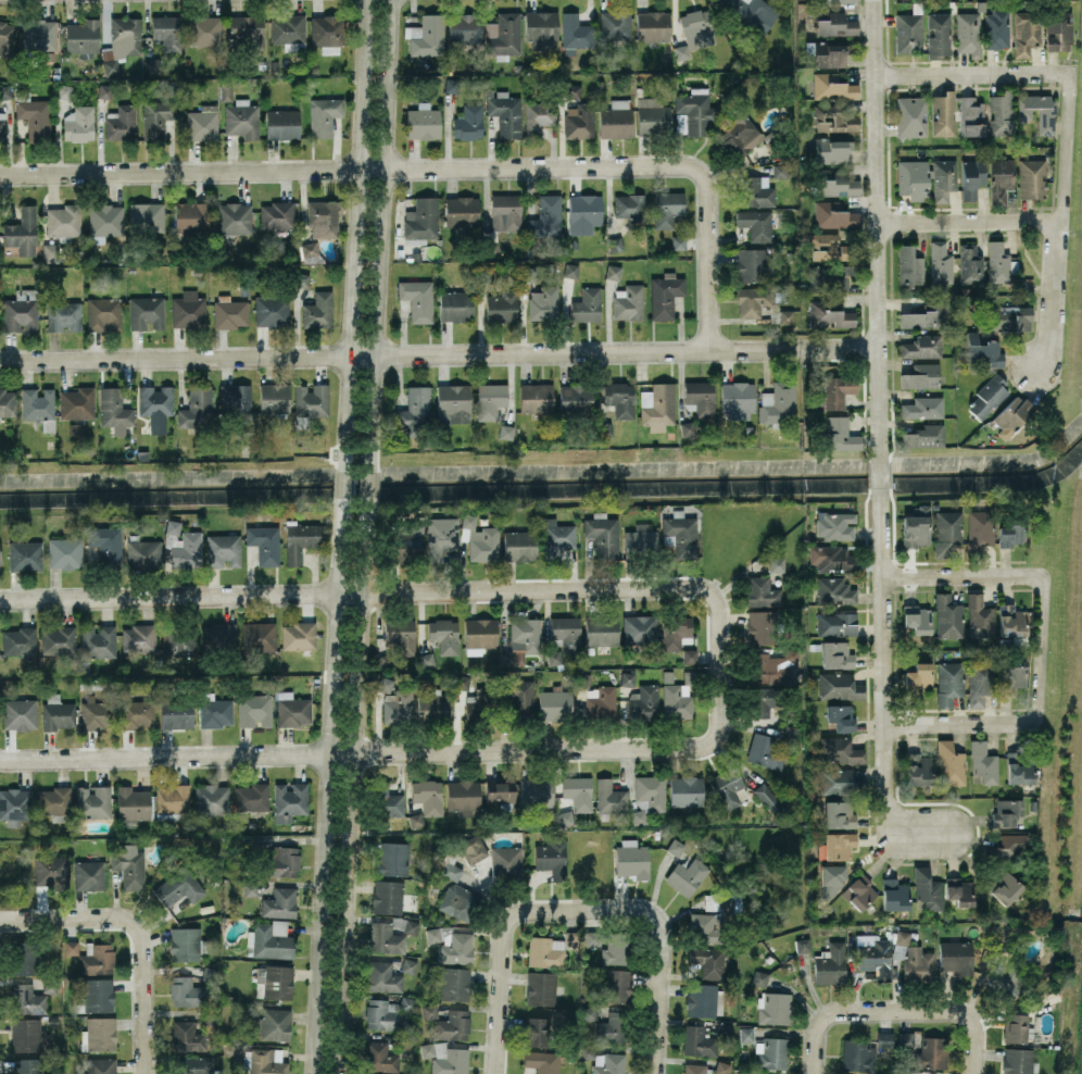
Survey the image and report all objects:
building: (832, 0)
building: (752, 12)
building: (834, 23)
building: (615, 24)
building: (652, 25)
building: (464, 27)
building: (248, 28)
building: (287, 28)
building: (996, 28)
building: (326, 29)
building: (541, 29)
building: (204, 30)
building: (1058, 30)
building: (168, 32)
building: (577, 32)
building: (694, 32)
building: (908, 32)
building: (1026, 32)
building: (968, 33)
building: (39, 34)
building: (426, 35)
building: (503, 35)
building: (939, 35)
building: (8, 36)
building: (81, 36)
building: (122, 41)
building: (828, 53)
building: (152, 65)
road: (972, 73)
building: (452, 85)
building: (832, 87)
building: (64, 90)
building: (104, 90)
building: (571, 90)
building: (4, 91)
building: (226, 91)
building: (1037, 110)
building: (693, 112)
building: (505, 113)
building: (943, 113)
building: (1001, 113)
building: (324, 115)
building: (652, 115)
building: (911, 115)
building: (538, 116)
building: (971, 116)
building: (35, 117)
building: (158, 118)
building: (242, 118)
building: (615, 118)
building: (834, 118)
building: (579, 121)
building: (423, 122)
building: (468, 122)
building: (122, 123)
building: (202, 123)
building: (282, 123)
building: (78, 124)
building: (2, 125)
building: (740, 133)
building: (831, 150)
road: (632, 168)
building: (781, 170)
road: (191, 171)
building: (971, 177)
building: (927, 178)
building: (1032, 178)
building: (1001, 179)
building: (836, 183)
building: (756, 191)
building: (667, 208)
building: (630, 209)
building: (462, 211)
building: (505, 212)
building: (583, 212)
building: (276, 214)
building: (834, 215)
building: (146, 216)
building: (545, 216)
building: (191, 217)
building: (234, 217)
building: (322, 217)
building: (63, 220)
building: (104, 221)
building: (422, 221)
road: (969, 223)
road: (1058, 223)
building: (755, 224)
road: (879, 228)
building: (22, 232)
road: (354, 232)
road: (380, 233)
building: (678, 241)
building: (829, 247)
building: (50, 252)
building: (310, 252)
building: (998, 262)
building: (753, 263)
building: (941, 263)
building: (970, 263)
building: (909, 265)
building: (570, 270)
building: (613, 272)
building: (528, 273)
building: (485, 274)
building: (830, 278)
building: (301, 279)
building: (665, 295)
building: (417, 299)
building: (752, 300)
building: (543, 302)
building: (628, 302)
building: (587, 304)
building: (455, 305)
building: (502, 307)
building: (188, 309)
building: (272, 310)
building: (318, 310)
road: (1068, 311)
building: (146, 312)
building: (230, 312)
building: (104, 313)
building: (20, 314)
building: (829, 314)
building: (63, 315)
building: (785, 316)
building: (922, 316)
building: (1010, 317)
building: (921, 347)
road: (627, 351)
building: (982, 352)
road: (186, 355)
building: (921, 376)
building: (838, 390)
building: (536, 397)
building: (575, 397)
building: (987, 397)
building: (235, 398)
building: (274, 398)
building: (619, 398)
building: (700, 398)
building: (311, 399)
building: (490, 400)
building: (737, 400)
building: (8, 402)
building: (453, 402)
building: (778, 402)
building: (37, 403)
building: (76, 403)
building: (155, 405)
building: (657, 405)
building: (196, 408)
building: (922, 408)
building: (414, 409)
building: (114, 410)
building: (1011, 414)
building: (79, 427)
building: (605, 428)
building: (505, 430)
building: (841, 435)
building: (923, 436)
road: (882, 477)
road: (341, 483)
road: (367, 484)
building: (834, 525)
building: (916, 526)
building: (946, 530)
building: (978, 530)
building: (1010, 532)
building: (603, 534)
building: (680, 534)
building: (440, 536)
building: (557, 537)
building: (641, 537)
building: (300, 540)
building: (402, 544)
building: (105, 545)
building: (183, 545)
building: (518, 545)
building: (265, 547)
building: (223, 550)
building: (64, 552)
building: (143, 554)
building: (25, 555)
building: (831, 558)
building: (0, 561)
building: (776, 563)
road: (948, 576)
road: (576, 590)
building: (834, 590)
building: (762, 591)
road: (180, 596)
building: (947, 616)
building: (979, 616)
building: (917, 619)
building: (1011, 621)
building: (836, 623)
building: (758, 626)
building: (640, 628)
building: (601, 629)
building: (675, 630)
building: (566, 632)
building: (479, 634)
building: (218, 635)
building: (298, 635)
building: (443, 635)
building: (259, 636)
building: (138, 638)
building: (399, 638)
building: (59, 639)
building: (16, 640)
building: (98, 640)
building: (523, 640)
building: (178, 642)
road: (1045, 642)
building: (835, 654)
building: (689, 655)
building: (554, 657)
building: (426, 660)
building: (772, 666)
building: (1010, 676)
building: (918, 677)
building: (628, 678)
building: (979, 682)
building: (948, 683)
building: (385, 684)
building: (839, 686)
road: (886, 697)
building: (676, 699)
building: (600, 701)
building: (762, 701)
building: (643, 702)
building: (473, 703)
building: (555, 704)
building: (395, 707)
building: (435, 708)
building: (292, 709)
building: (254, 710)
building: (215, 711)
building: (58, 712)
building: (20, 713)
building: (97, 713)
building: (176, 713)
building: (137, 714)
building: (840, 716)
road: (952, 723)
building: (791, 734)
building: (841, 749)
road: (571, 750)
building: (765, 751)
road: (175, 755)
building: (983, 762)
building: (949, 763)
building: (918, 769)
building: (1019, 769)
building: (836, 780)
road: (350, 787)
building: (727, 787)
road: (326, 788)
building: (685, 790)
building: (500, 791)
building: (536, 791)
building: (578, 791)
building: (428, 795)
building: (463, 796)
building: (647, 796)
building: (251, 797)
building: (609, 797)
building: (768, 798)
building: (212, 799)
building: (54, 800)
building: (289, 800)
building: (388, 800)
building: (92, 801)
building: (133, 802)
building: (172, 802)
building: (15, 806)
building: (1006, 811)
building: (839, 814)
building: (565, 817)
building: (416, 819)
building: (839, 845)
building: (676, 846)
building: (473, 848)
building: (1007, 848)
building: (393, 858)
building: (552, 858)
building: (631, 858)
building: (506, 860)
building: (284, 861)
building: (128, 864)
building: (448, 865)
building: (51, 871)
building: (89, 874)
building: (687, 875)
building: (1003, 886)
building: (178, 887)
building: (250, 888)
building: (927, 888)
building: (959, 890)
building: (859, 891)
building: (894, 895)
building: (387, 896)
building: (457, 900)
building: (279, 902)
road: (32, 919)
building: (705, 927)
building: (903, 937)
building: (386, 938)
building: (591, 938)
building: (269, 939)
building: (185, 944)
building: (451, 945)
building: (803, 945)
building: (71, 947)
building: (615, 948)
building: (545, 951)
building: (873, 954)
building: (24, 957)
road: (500, 957)
road: (663, 957)
building: (956, 957)
building: (97, 959)
road: (142, 961)
building: (707, 961)
building: (918, 963)
building: (830, 964)
building: (408, 965)
building: (382, 976)
building: (760, 977)
building: (274, 982)
building: (455, 983)
building: (1006, 983)
building: (614, 985)
building: (540, 987)
building: (186, 991)
building: (98, 995)
building: (27, 999)
building: (705, 1000)
building: (406, 1003)
building: (773, 1008)
building: (429, 1011)
building: (589, 1012)
road: (834, 1013)
road: (967, 1013)
building: (382, 1014)
building: (273, 1024)
building: (452, 1025)
building: (611, 1026)
building: (1016, 1027)
building: (537, 1031)
building: (99, 1033)
building: (746, 1034)
building: (28, 1035)
building: (188, 1037)
building: (884, 1038)
building: (906, 1038)
building: (699, 1041)
building: (427, 1049)
building: (931, 1052)
building: (771, 1053)
building: (857, 1054)
building: (379, 1057)
building: (1017, 1060)
building: (542, 1061)
building: (263, 1062)
building: (451, 1062)
building: (608, 1063)
building: (193, 1064)
building: (27, 1065)
building: (101, 1065)
building: (693, 1067)
building: (722, 1067)
building: (744, 1072)
building: (908, 1072)

